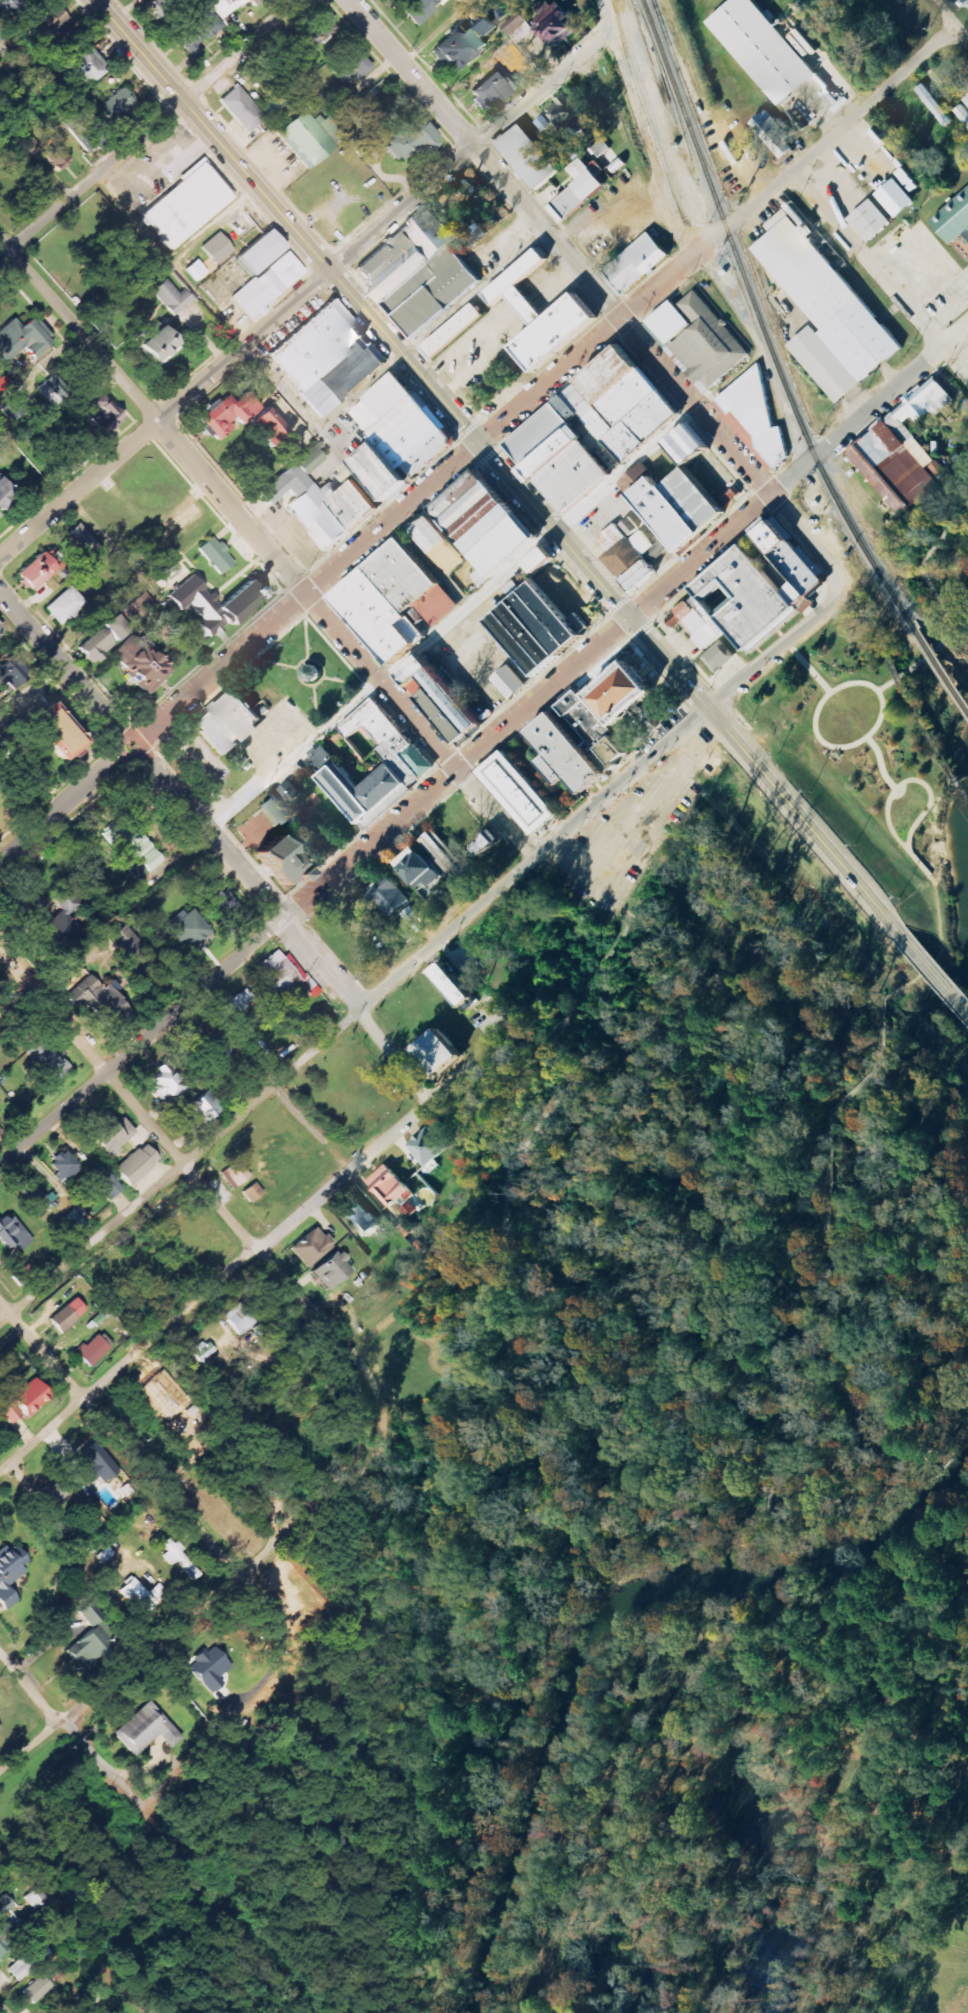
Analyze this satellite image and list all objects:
building: (227, 6)
building: (5, 7)
building: (421, 9)
road: (606, 15)
road: (950, 23)
building: (556, 24)
building: (47, 25)
building: (490, 28)
building: (313, 31)
building: (201, 33)
building: (460, 48)
building: (759, 48)
road: (241, 50)
building: (87, 66)
road: (411, 72)
building: (491, 92)
building: (967, 100)
road: (186, 103)
building: (933, 103)
building: (240, 109)
railway: (644, 112)
building: (963, 113)
building: (568, 117)
building: (100, 122)
building: (774, 134)
building: (300, 136)
building: (407, 142)
building: (600, 147)
road: (468, 149)
building: (56, 157)
building: (524, 157)
road: (92, 180)
building: (580, 189)
building: (898, 198)
building: (184, 203)
railway: (730, 212)
building: (953, 216)
building: (867, 220)
road: (716, 236)
building: (217, 248)
building: (261, 252)
road: (923, 254)
road: (866, 259)
parking lot: (917, 259)
road: (168, 261)
building: (634, 261)
building: (283, 269)
building: (196, 270)
building: (415, 272)
building: (255, 294)
building: (172, 297)
road: (930, 301)
parking lot: (951, 301)
road: (957, 304)
building: (823, 310)
building: (537, 315)
railway: (758, 319)
road: (621, 320)
road: (431, 329)
road: (78, 330)
building: (449, 331)
building: (22, 340)
building: (696, 340)
road: (947, 343)
building: (159, 346)
building: (325, 359)
building: (54, 390)
building: (226, 412)
road: (452, 413)
building: (104, 415)
road: (164, 415)
building: (752, 418)
building: (265, 426)
building: (588, 429)
road: (319, 430)
building: (393, 437)
traffic signals: (478, 443)
building: (681, 444)
building: (898, 453)
road: (777, 489)
building: (5, 493)
building: (688, 498)
building: (321, 501)
building: (656, 508)
building: (629, 527)
building: (470, 530)
building: (82, 539)
road: (808, 539)
building: (217, 555)
building: (627, 556)
building: (786, 558)
building: (535, 560)
building: (37, 572)
road: (146, 582)
road: (484, 589)
building: (792, 593)
road: (304, 594)
road: (307, 595)
building: (742, 596)
road: (938, 601)
building: (391, 602)
building: (215, 604)
building: (66, 605)
building: (141, 607)
road: (464, 608)
building: (551, 615)
traffic signals: (630, 618)
building: (539, 625)
building: (117, 628)
building: (0, 630)
building: (527, 635)
railway: (879, 642)
building: (98, 645)
building: (516, 645)
road: (774, 649)
parking lot: (463, 654)
building: (720, 657)
building: (143, 666)
railway: (939, 666)
building: (12, 671)
park: (310, 672)
building: (409, 672)
building: (507, 682)
road: (885, 686)
building: (414, 688)
building: (614, 693)
building: (446, 701)
road: (882, 706)
park: (880, 709)
building: (439, 716)
building: (229, 722)
building: (52, 729)
building: (589, 730)
railway: (925, 731)
road: (727, 732)
building: (0, 740)
road: (139, 754)
building: (559, 754)
building: (416, 758)
building: (396, 761)
road: (880, 763)
road: (457, 769)
building: (356, 784)
building: (515, 792)
road: (66, 804)
road: (495, 812)
road: (919, 816)
road: (887, 822)
parking lot: (636, 827)
building: (133, 847)
building: (273, 857)
road: (531, 857)
building: (445, 859)
building: (419, 869)
road: (862, 891)
building: (389, 897)
building: (191, 931)
road: (941, 937)
building: (126, 942)
road: (933, 974)
building: (278, 977)
building: (454, 984)
building: (96, 998)
building: (238, 1003)
road: (357, 1006)
road: (53, 1015)
road: (569, 1034)
road: (141, 1042)
building: (441, 1052)
building: (47, 1061)
road: (271, 1083)
building: (168, 1084)
building: (205, 1107)
building: (0, 1131)
building: (111, 1136)
building: (428, 1147)
road: (519, 1150)
building: (137, 1164)
building: (64, 1165)
road: (181, 1167)
building: (235, 1174)
building: (107, 1183)
building: (252, 1192)
building: (35, 1195)
park: (738, 1195)
building: (410, 1209)
building: (359, 1216)
building: (75, 1220)
building: (13, 1234)
road: (248, 1242)
road: (826, 1244)
building: (311, 1247)
road: (234, 1269)
building: (331, 1270)
building: (68, 1314)
building: (239, 1319)
building: (94, 1349)
building: (23, 1401)
road: (846, 1429)
road: (120, 1437)
building: (97, 1465)
building: (49, 1495)
road: (758, 1502)
building: (179, 1558)
building: (10, 1574)
building: (159, 1592)
building: (138, 1596)
road: (203, 1606)
river: (604, 1623)
building: (210, 1668)
building: (0, 1729)
road: (68, 1730)
building: (145, 1730)
building: (10, 1917)
building: (2, 1943)
building: (26, 1965)
building: (37, 1989)
road: (2, 2009)

